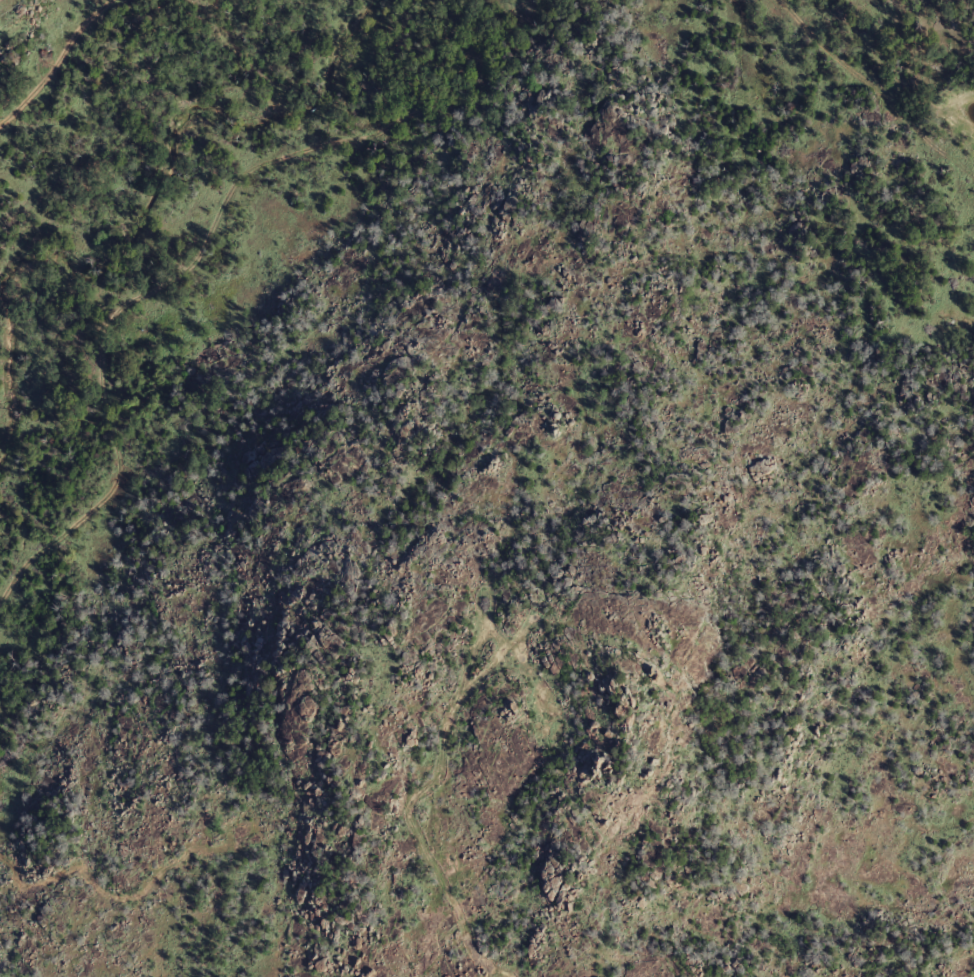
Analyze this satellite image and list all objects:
road: (55, 62)
road: (873, 98)

